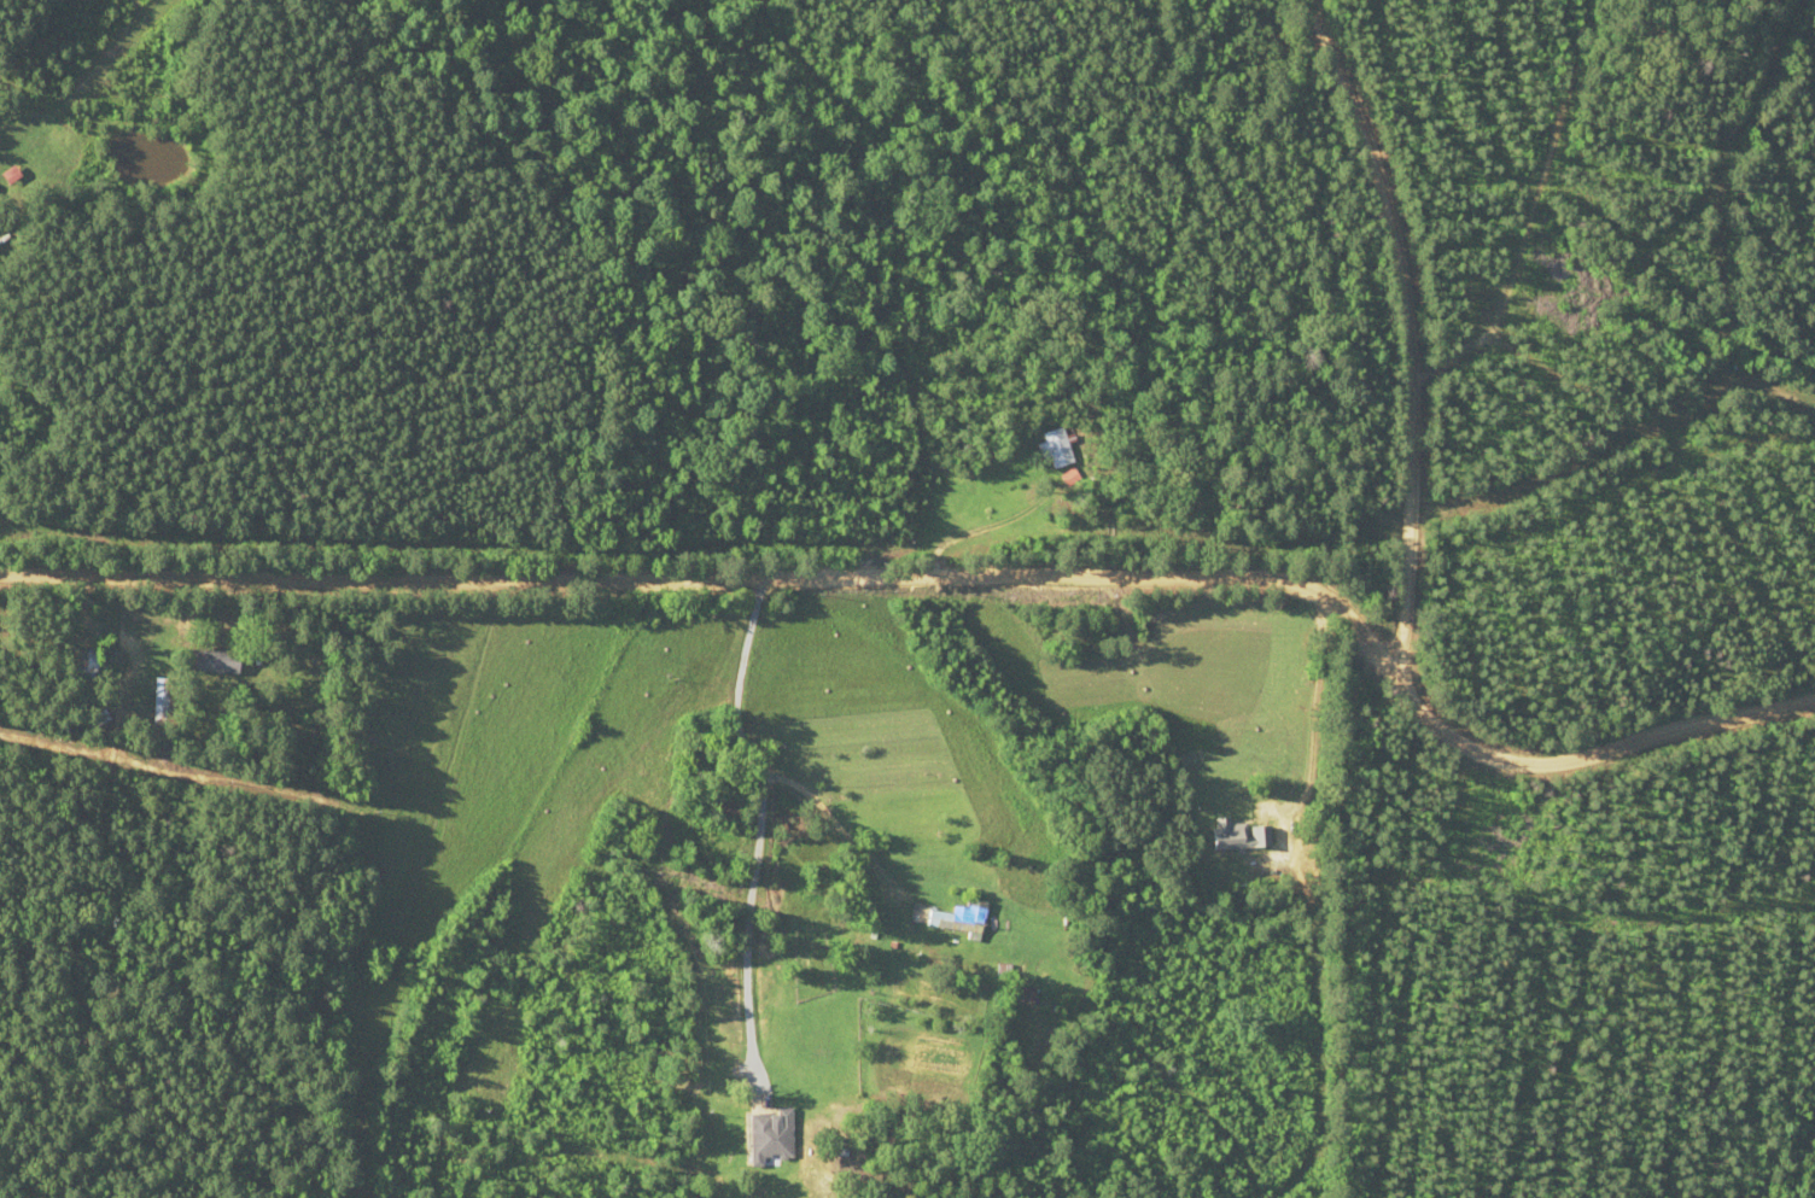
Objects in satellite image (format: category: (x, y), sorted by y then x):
building: (5, 176)
road: (1391, 244)
building: (1049, 449)
road: (719, 575)
road: (1400, 592)
building: (78, 659)
building: (199, 660)
road: (741, 666)
road: (713, 678)
road: (1592, 758)
building: (728, 811)
building: (1235, 835)
building: (957, 917)
building: (1016, 993)
building: (764, 1134)

